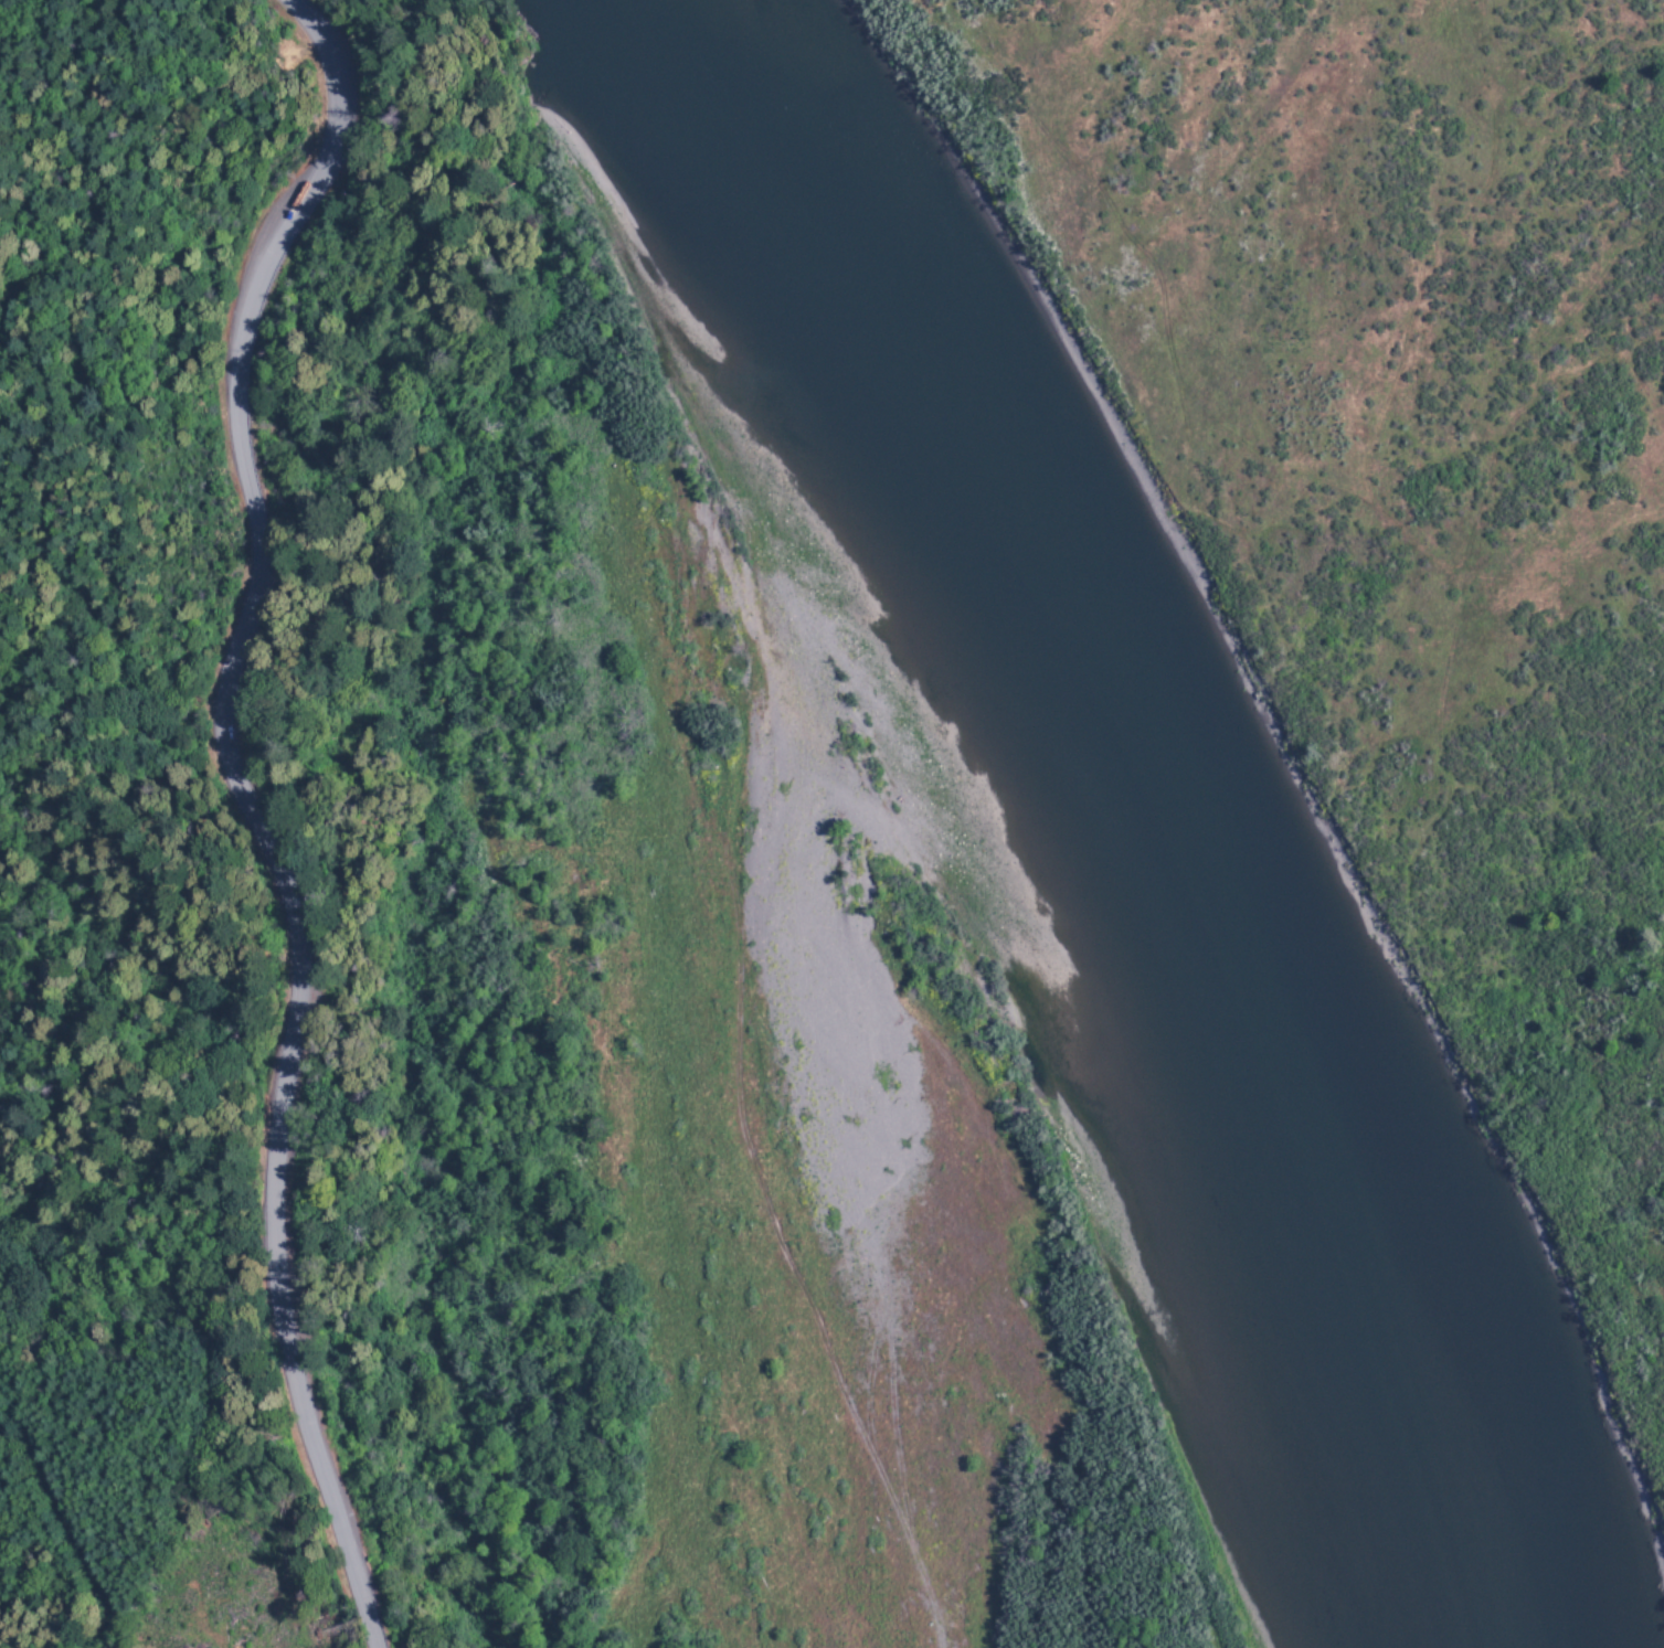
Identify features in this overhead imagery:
river: (1028, 774)
road: (252, 805)

